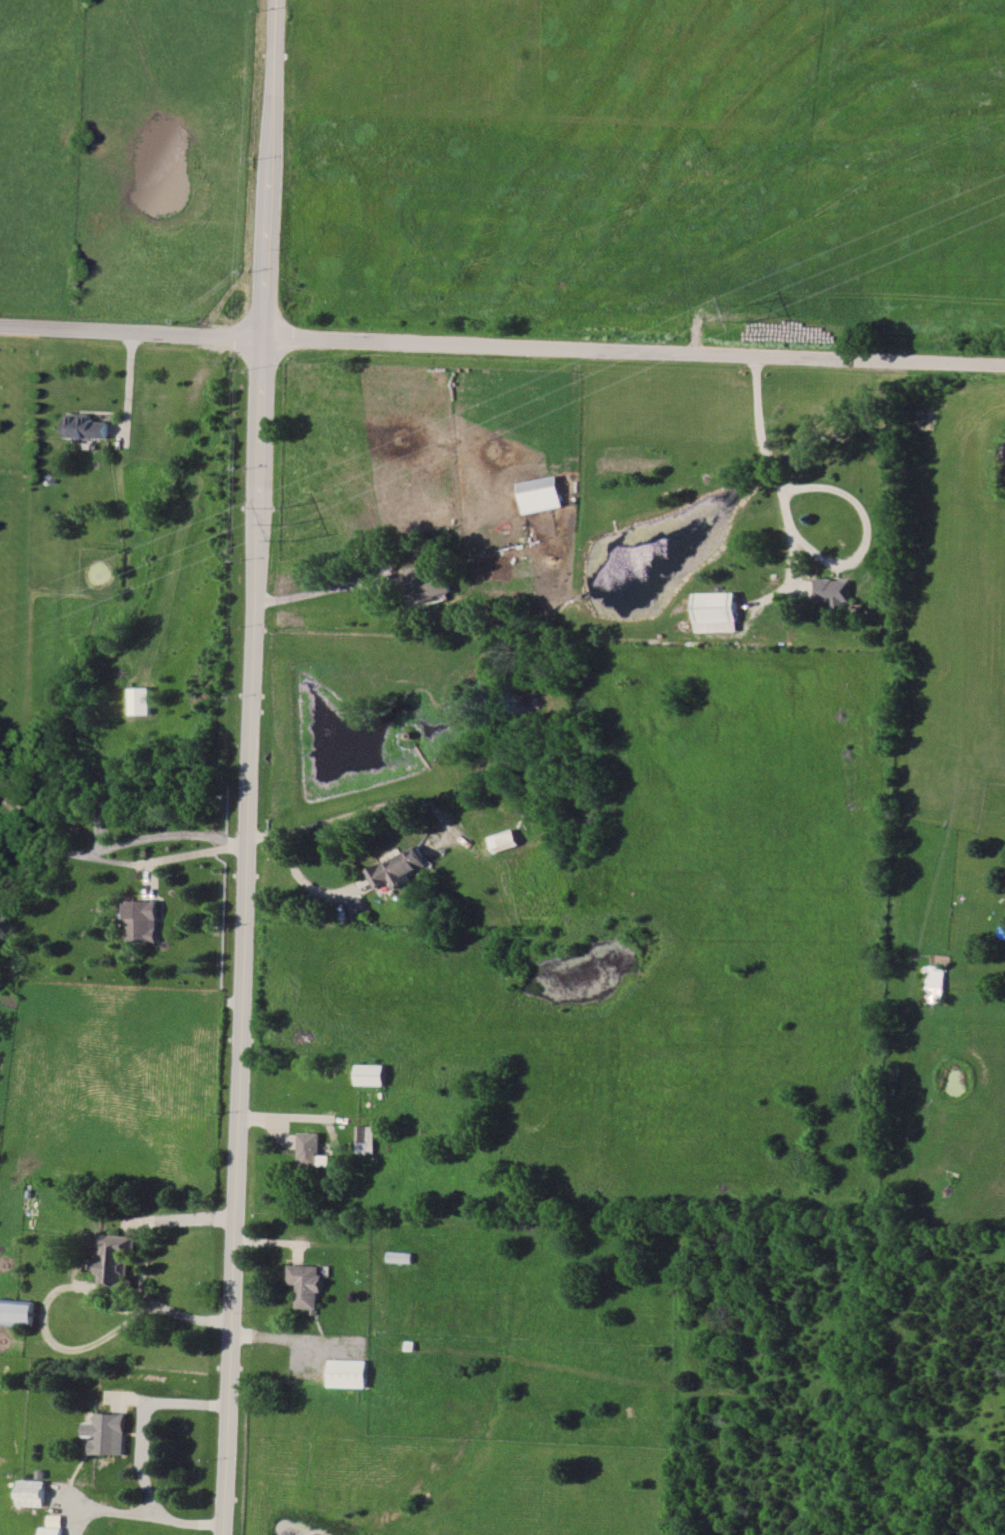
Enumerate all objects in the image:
power tower: (746, 312)
road: (502, 347)
building: (84, 426)
building: (541, 494)
power tower: (288, 518)
road: (810, 538)
building: (428, 584)
building: (834, 590)
road: (315, 591)
building: (718, 611)
building: (140, 700)
road: (249, 767)
road: (384, 804)
road: (159, 836)
road: (264, 837)
building: (503, 840)
road: (58, 848)
road: (192, 855)
building: (397, 868)
road: (308, 881)
building: (357, 905)
building: (144, 920)
building: (936, 983)
building: (368, 1138)
building: (313, 1150)
building: (116, 1258)
road: (143, 1261)
building: (308, 1284)
building: (17, 1311)
road: (293, 1340)
building: (348, 1373)
building: (108, 1433)
road: (142, 1454)
building: (32, 1492)

